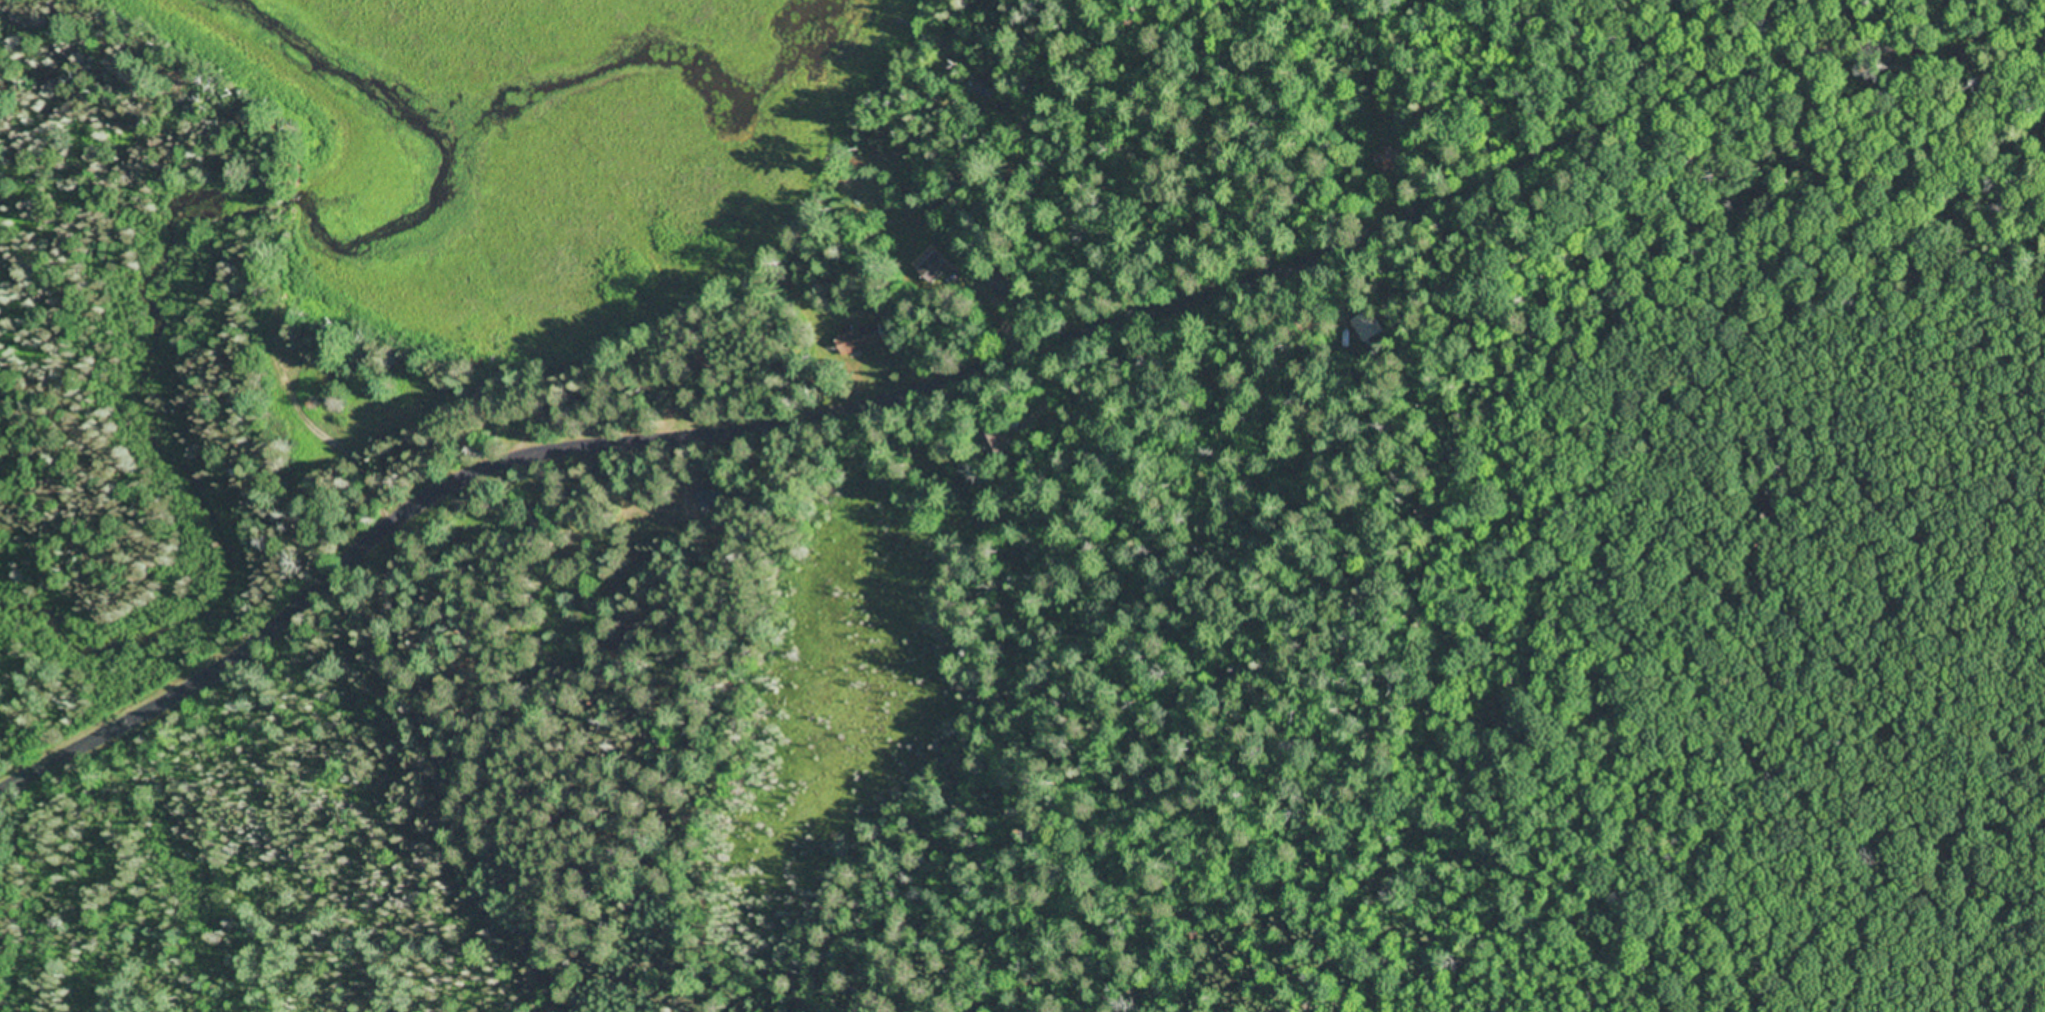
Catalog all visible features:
road: (1717, 81)
road: (1150, 161)
road: (1118, 209)
building: (936, 267)
building: (1349, 331)
building: (863, 337)
road: (667, 436)

